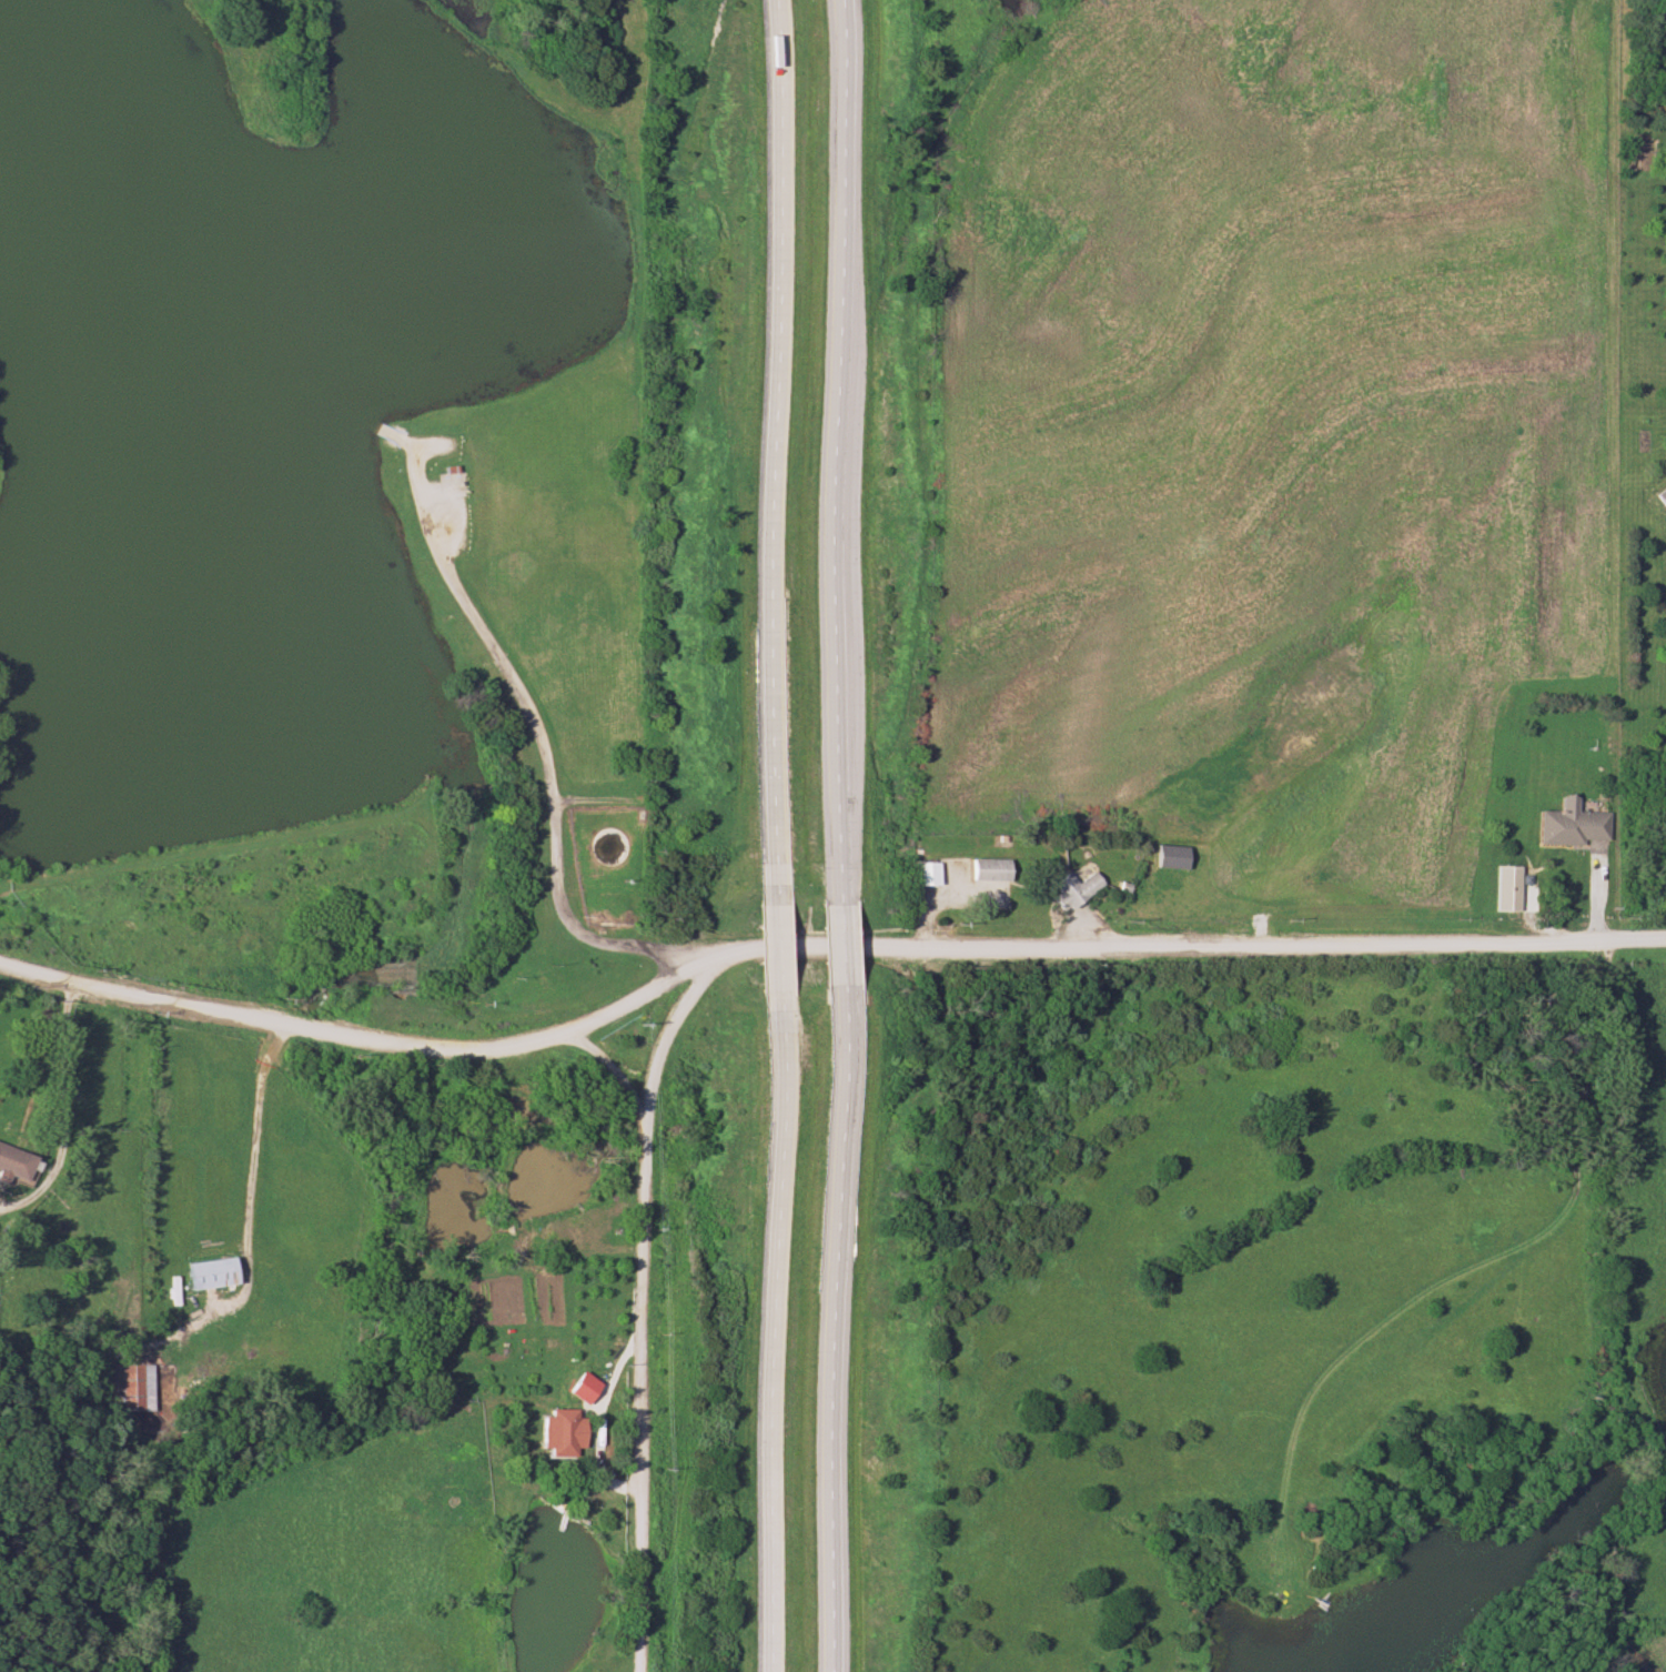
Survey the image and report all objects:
crop: (1262, 412)
road: (774, 444)
road: (838, 445)
building: (1659, 496)
building: (1664, 541)
road: (537, 744)
building: (1564, 827)
dam: (225, 828)
building: (595, 848)
building: (1165, 857)
building: (983, 869)
building: (922, 874)
building: (1501, 888)
building: (1068, 889)
road: (778, 945)
road: (839, 946)
road: (818, 953)
building: (205, 956)
road: (668, 1039)
building: (1002, 1040)
road: (61, 1095)
road: (256, 1152)
building: (10, 1164)
building: (210, 1273)
road: (779, 1336)
road: (841, 1336)
road: (644, 1337)
building: (133, 1388)
building: (554, 1433)

